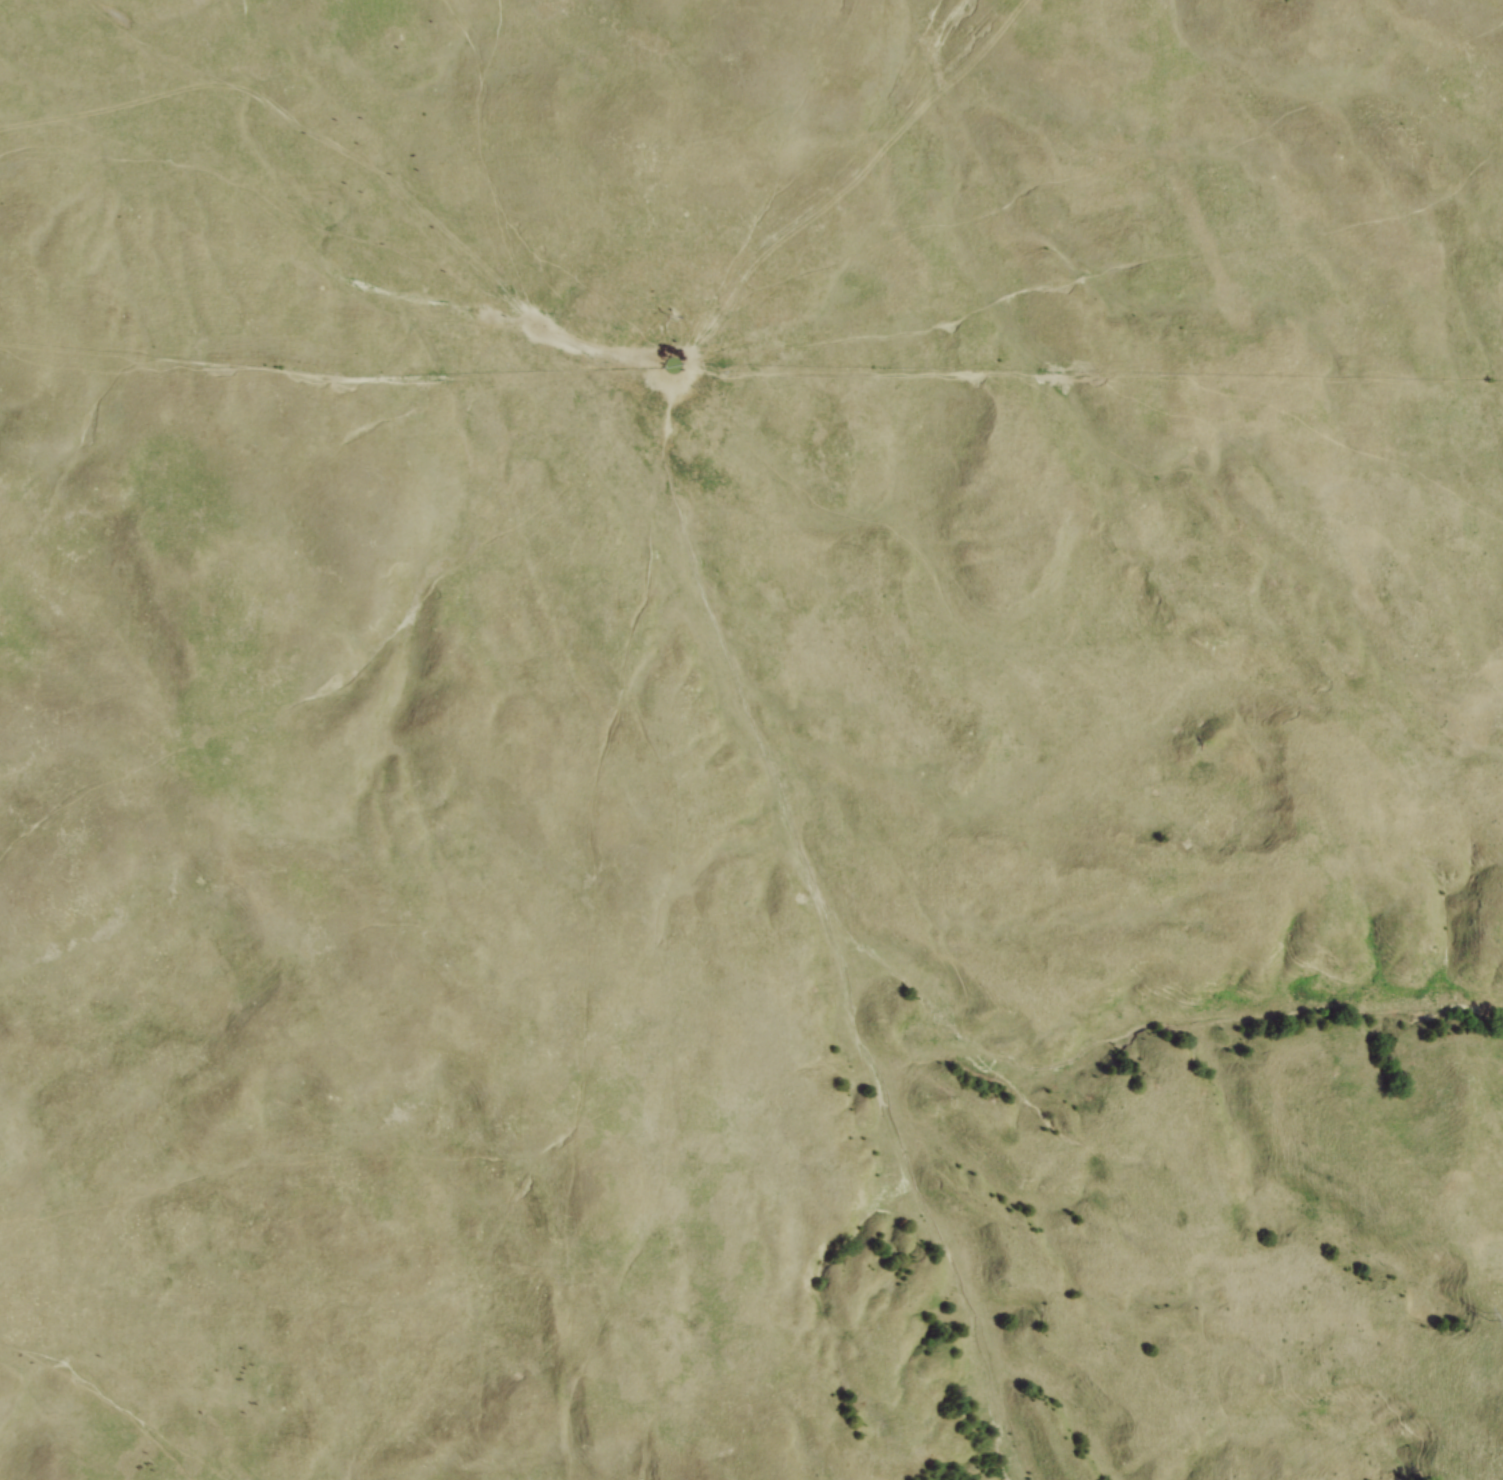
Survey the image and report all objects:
power tower: (1487, 1320)

